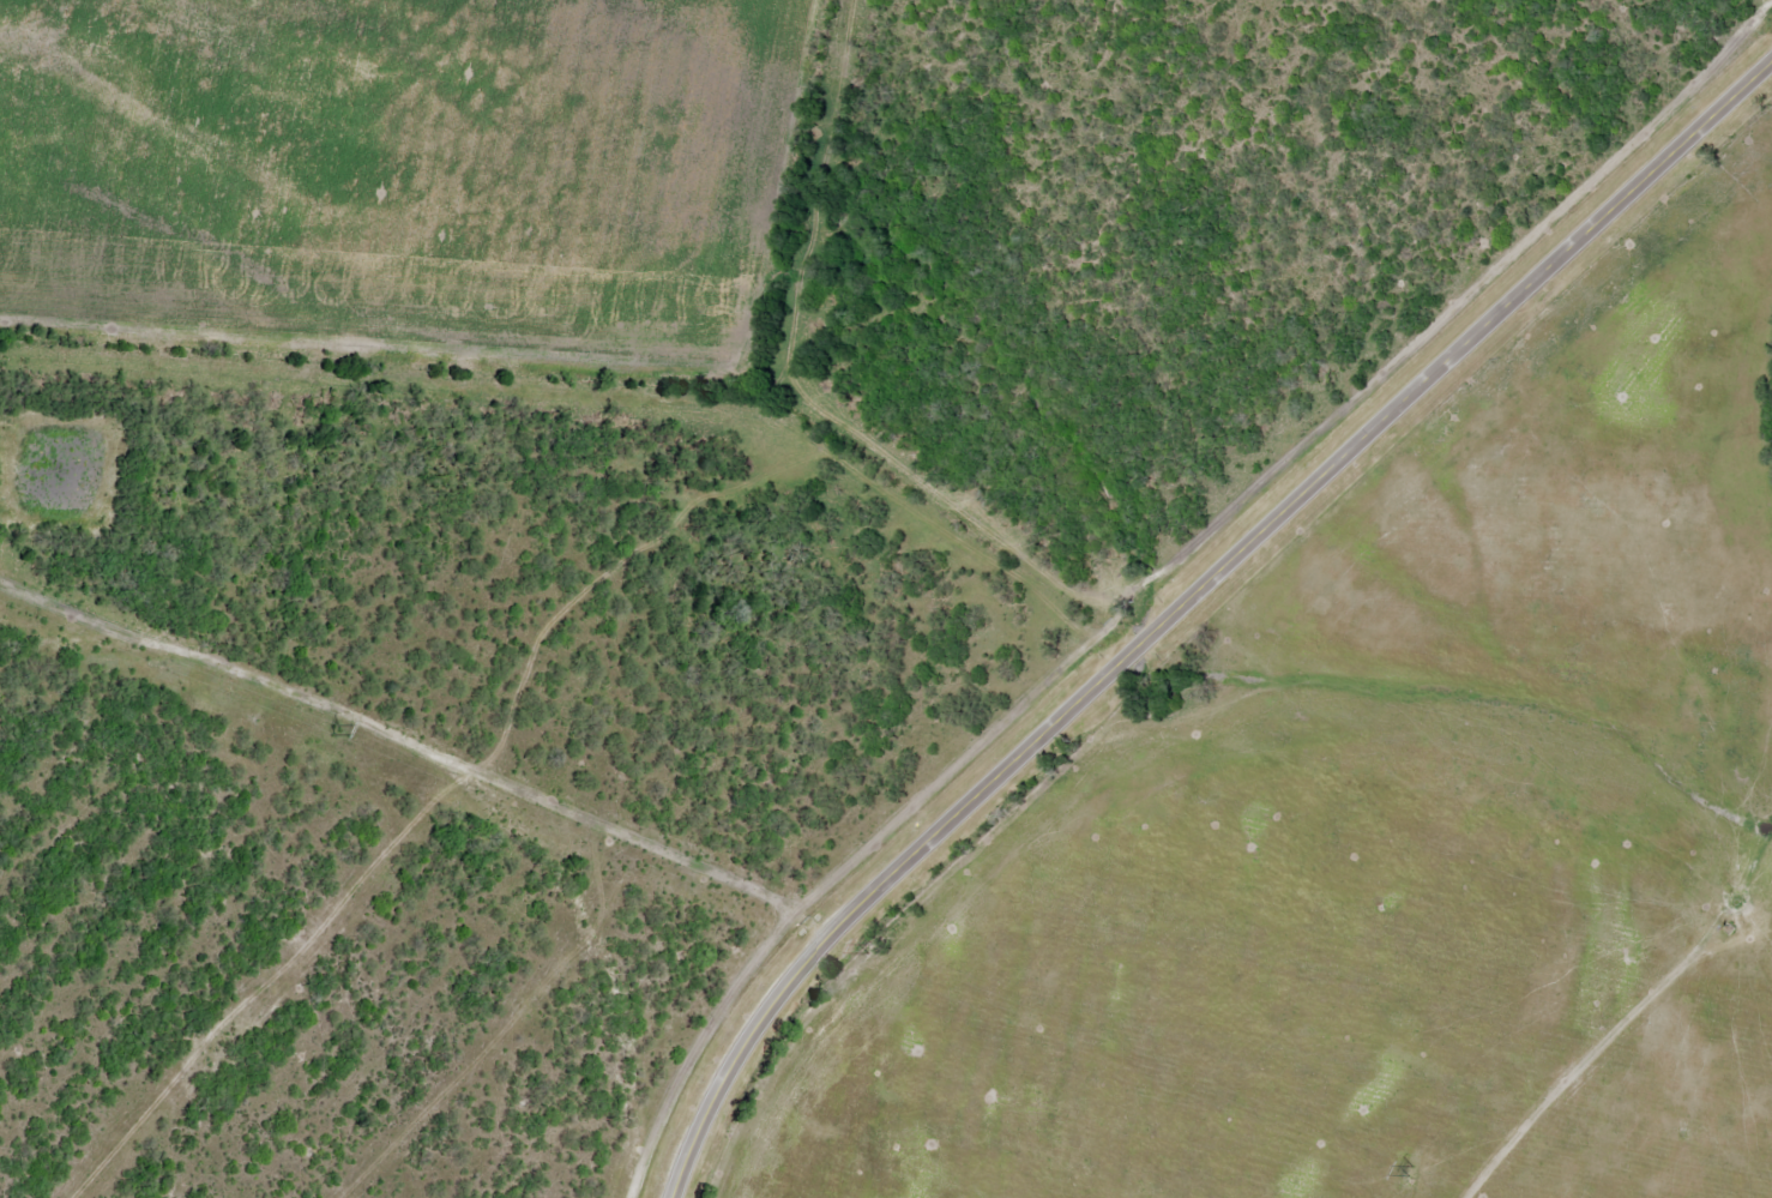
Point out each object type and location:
road: (1186, 603)
power tower: (337, 732)
power tower: (870, 950)
power tower: (1410, 1172)

